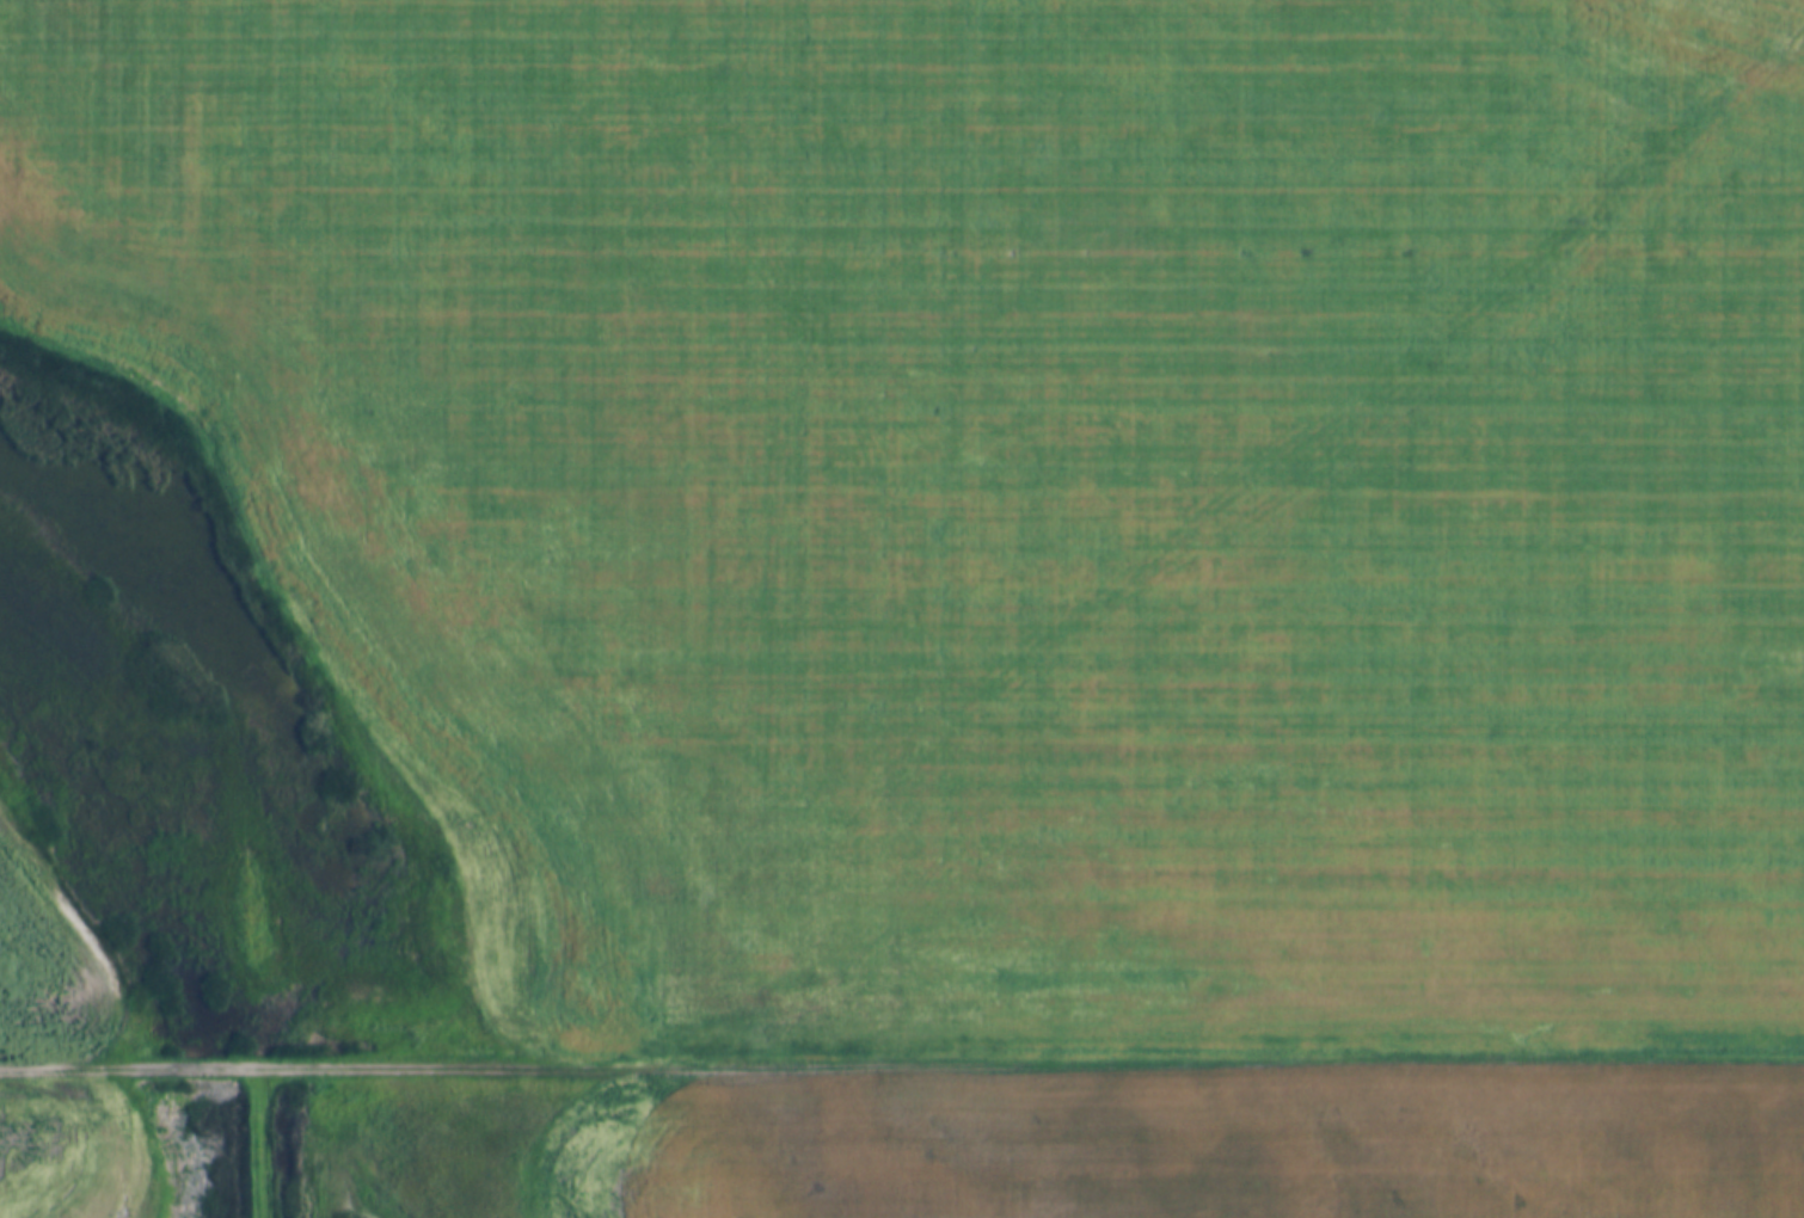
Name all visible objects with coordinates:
crop: (1011, 490)
road: (902, 1064)
road: (241, 1143)

